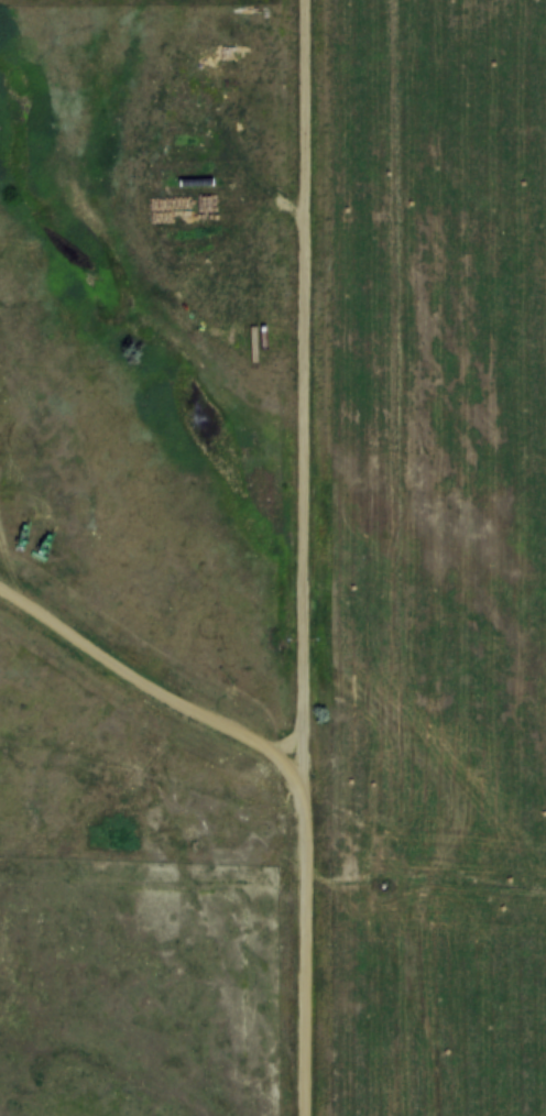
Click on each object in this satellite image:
road: (157, 169)
road: (307, 558)

